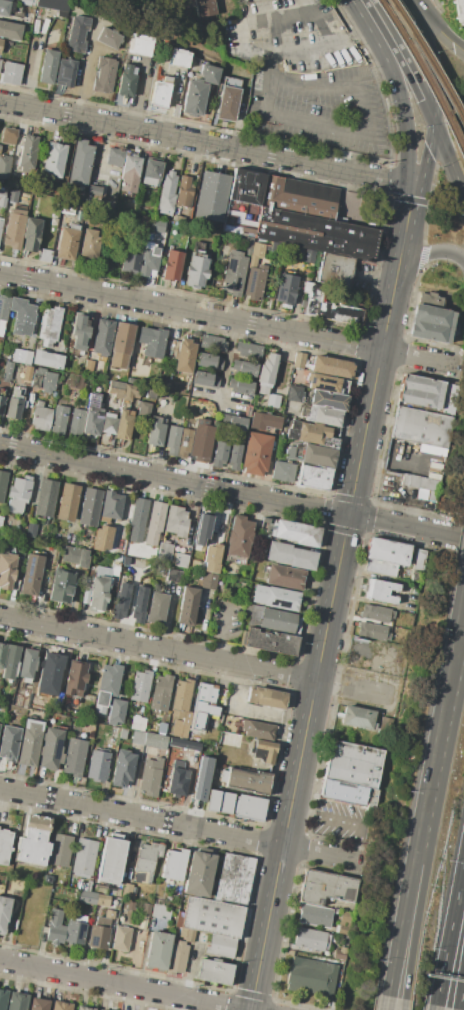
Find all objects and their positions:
building: (25, 2)
building: (57, 6)
building: (5, 7)
building: (203, 7)
building: (459, 10)
road: (439, 24)
building: (10, 30)
building: (77, 35)
building: (108, 39)
building: (0, 42)
building: (139, 44)
road: (323, 46)
road: (249, 50)
building: (179, 57)
road: (400, 57)
road: (428, 57)
railway: (428, 59)
building: (0, 60)
building: (47, 66)
road: (84, 70)
building: (65, 72)
building: (10, 73)
building: (209, 73)
building: (104, 74)
parking lot: (307, 77)
railway: (424, 77)
building: (126, 81)
road: (313, 84)
road: (397, 88)
building: (160, 92)
building: (194, 97)
building: (228, 98)
road: (363, 113)
traffic signals: (433, 120)
road: (314, 123)
building: (8, 136)
road: (206, 142)
building: (0, 146)
building: (28, 151)
road: (427, 153)
building: (114, 157)
road: (448, 158)
building: (53, 159)
building: (80, 163)
building: (4, 167)
building: (151, 171)
building: (129, 174)
traffic signals: (413, 184)
building: (93, 191)
building: (184, 191)
building: (166, 193)
building: (12, 195)
building: (211, 196)
building: (2, 197)
building: (292, 215)
building: (1, 223)
building: (13, 228)
road: (403, 233)
building: (31, 234)
building: (87, 243)
building: (247, 243)
building: (66, 244)
building: (258, 247)
road: (424, 252)
building: (148, 257)
building: (130, 261)
building: (172, 266)
building: (334, 269)
building: (196, 271)
building: (233, 275)
building: (254, 281)
building: (285, 289)
building: (4, 297)
building: (310, 297)
building: (430, 300)
building: (3, 312)
building: (338, 313)
building: (21, 316)
road: (228, 319)
building: (431, 323)
building: (49, 326)
building: (79, 332)
building: (102, 337)
building: (151, 341)
building: (212, 342)
building: (121, 346)
building: (248, 349)
building: (185, 356)
building: (37, 358)
road: (227, 358)
building: (298, 360)
building: (209, 361)
building: (88, 366)
building: (331, 366)
building: (247, 369)
building: (27, 373)
building: (266, 373)
building: (205, 379)
building: (43, 380)
building: (75, 381)
building: (324, 382)
building: (164, 386)
building: (244, 387)
building: (115, 389)
building: (130, 392)
building: (422, 392)
building: (149, 394)
road: (214, 394)
building: (294, 394)
building: (16, 395)
building: (328, 400)
building: (95, 401)
building: (273, 401)
building: (1, 404)
building: (14, 407)
building: (143, 409)
building: (323, 416)
building: (41, 417)
building: (58, 419)
building: (263, 421)
building: (74, 422)
building: (91, 423)
building: (237, 423)
building: (108, 425)
building: (122, 426)
building: (420, 426)
building: (154, 431)
building: (312, 433)
building: (291, 434)
building: (172, 439)
building: (201, 441)
building: (183, 443)
building: (256, 453)
building: (294, 453)
building: (219, 454)
building: (234, 456)
building: (318, 456)
building: (283, 472)
building: (314, 478)
building: (2, 483)
building: (421, 486)
road: (205, 487)
building: (18, 494)
building: (45, 497)
building: (67, 502)
building: (111, 506)
building: (90, 507)
building: (138, 513)
building: (156, 517)
building: (0, 521)
building: (176, 522)
building: (203, 528)
building: (31, 530)
building: (296, 532)
road: (438, 534)
building: (239, 536)
building: (102, 539)
building: (140, 551)
building: (164, 551)
building: (69, 554)
building: (290, 555)
building: (385, 556)
building: (212, 558)
building: (82, 559)
building: (179, 559)
building: (223, 564)
building: (6, 571)
building: (101, 571)
building: (32, 574)
road: (463, 575)
building: (285, 577)
building: (209, 581)
building: (61, 586)
building: (380, 590)
building: (98, 592)
building: (276, 597)
building: (120, 605)
building: (188, 606)
building: (156, 608)
building: (139, 609)
building: (375, 613)
building: (276, 619)
building: (372, 630)
road: (453, 631)
road: (223, 632)
building: (270, 641)
road: (321, 646)
road: (361, 651)
building: (2, 654)
road: (454, 655)
road: (195, 657)
building: (10, 661)
building: (27, 665)
building: (48, 672)
building: (74, 678)
building: (106, 686)
building: (140, 686)
building: (162, 693)
building: (181, 697)
building: (266, 698)
building: (206, 700)
building: (18, 701)
building: (115, 711)
building: (358, 717)
building: (186, 718)
building: (194, 718)
building: (137, 723)
road: (436, 724)
building: (257, 729)
building: (180, 730)
building: (137, 737)
building: (230, 739)
building: (155, 741)
building: (9, 742)
building: (30, 742)
building: (183, 744)
building: (50, 748)
building: (264, 751)
building: (74, 757)
building: (194, 760)
building: (98, 764)
building: (352, 764)
building: (122, 768)
building: (151, 776)
building: (200, 778)
building: (246, 779)
building: (178, 783)
building: (342, 793)
building: (218, 801)
building: (248, 807)
road: (140, 817)
parking lot: (341, 821)
road: (341, 821)
building: (33, 840)
building: (4, 846)
road: (318, 853)
building: (59, 858)
building: (84, 858)
building: (112, 860)
building: (147, 861)
building: (174, 864)
building: (199, 874)
building: (233, 878)
road: (407, 882)
road: (421, 884)
building: (327, 887)
building: (127, 891)
building: (87, 897)
building: (100, 899)
building: (130, 905)
building: (146, 909)
building: (161, 911)
building: (3, 912)
building: (110, 914)
building: (314, 915)
building: (213, 917)
building: (55, 927)
building: (76, 930)
road: (449, 931)
building: (182, 932)
building: (100, 933)
building: (189, 935)
building: (197, 935)
building: (203, 937)
building: (121, 938)
building: (311, 939)
building: (220, 946)
building: (157, 950)
building: (176, 958)
building: (214, 972)
building: (313, 977)
road: (121, 985)
building: (3, 998)
building: (16, 1001)
road: (385, 1003)
road: (463, 1003)
building: (38, 1004)
road: (403, 1004)
building: (60, 1006)
road: (434, 1007)
building: (84, 1008)
building: (100, 1009)

